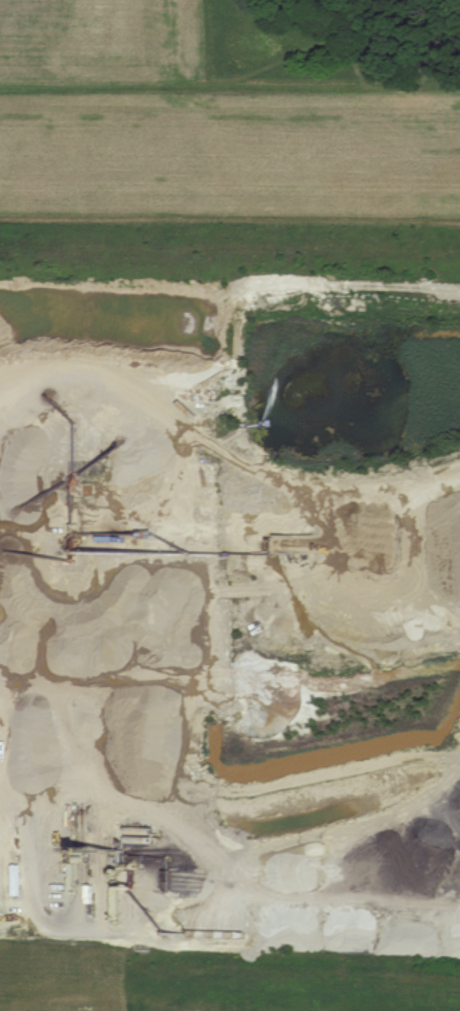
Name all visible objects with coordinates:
building: (15, 300)
quarry: (230, 619)

